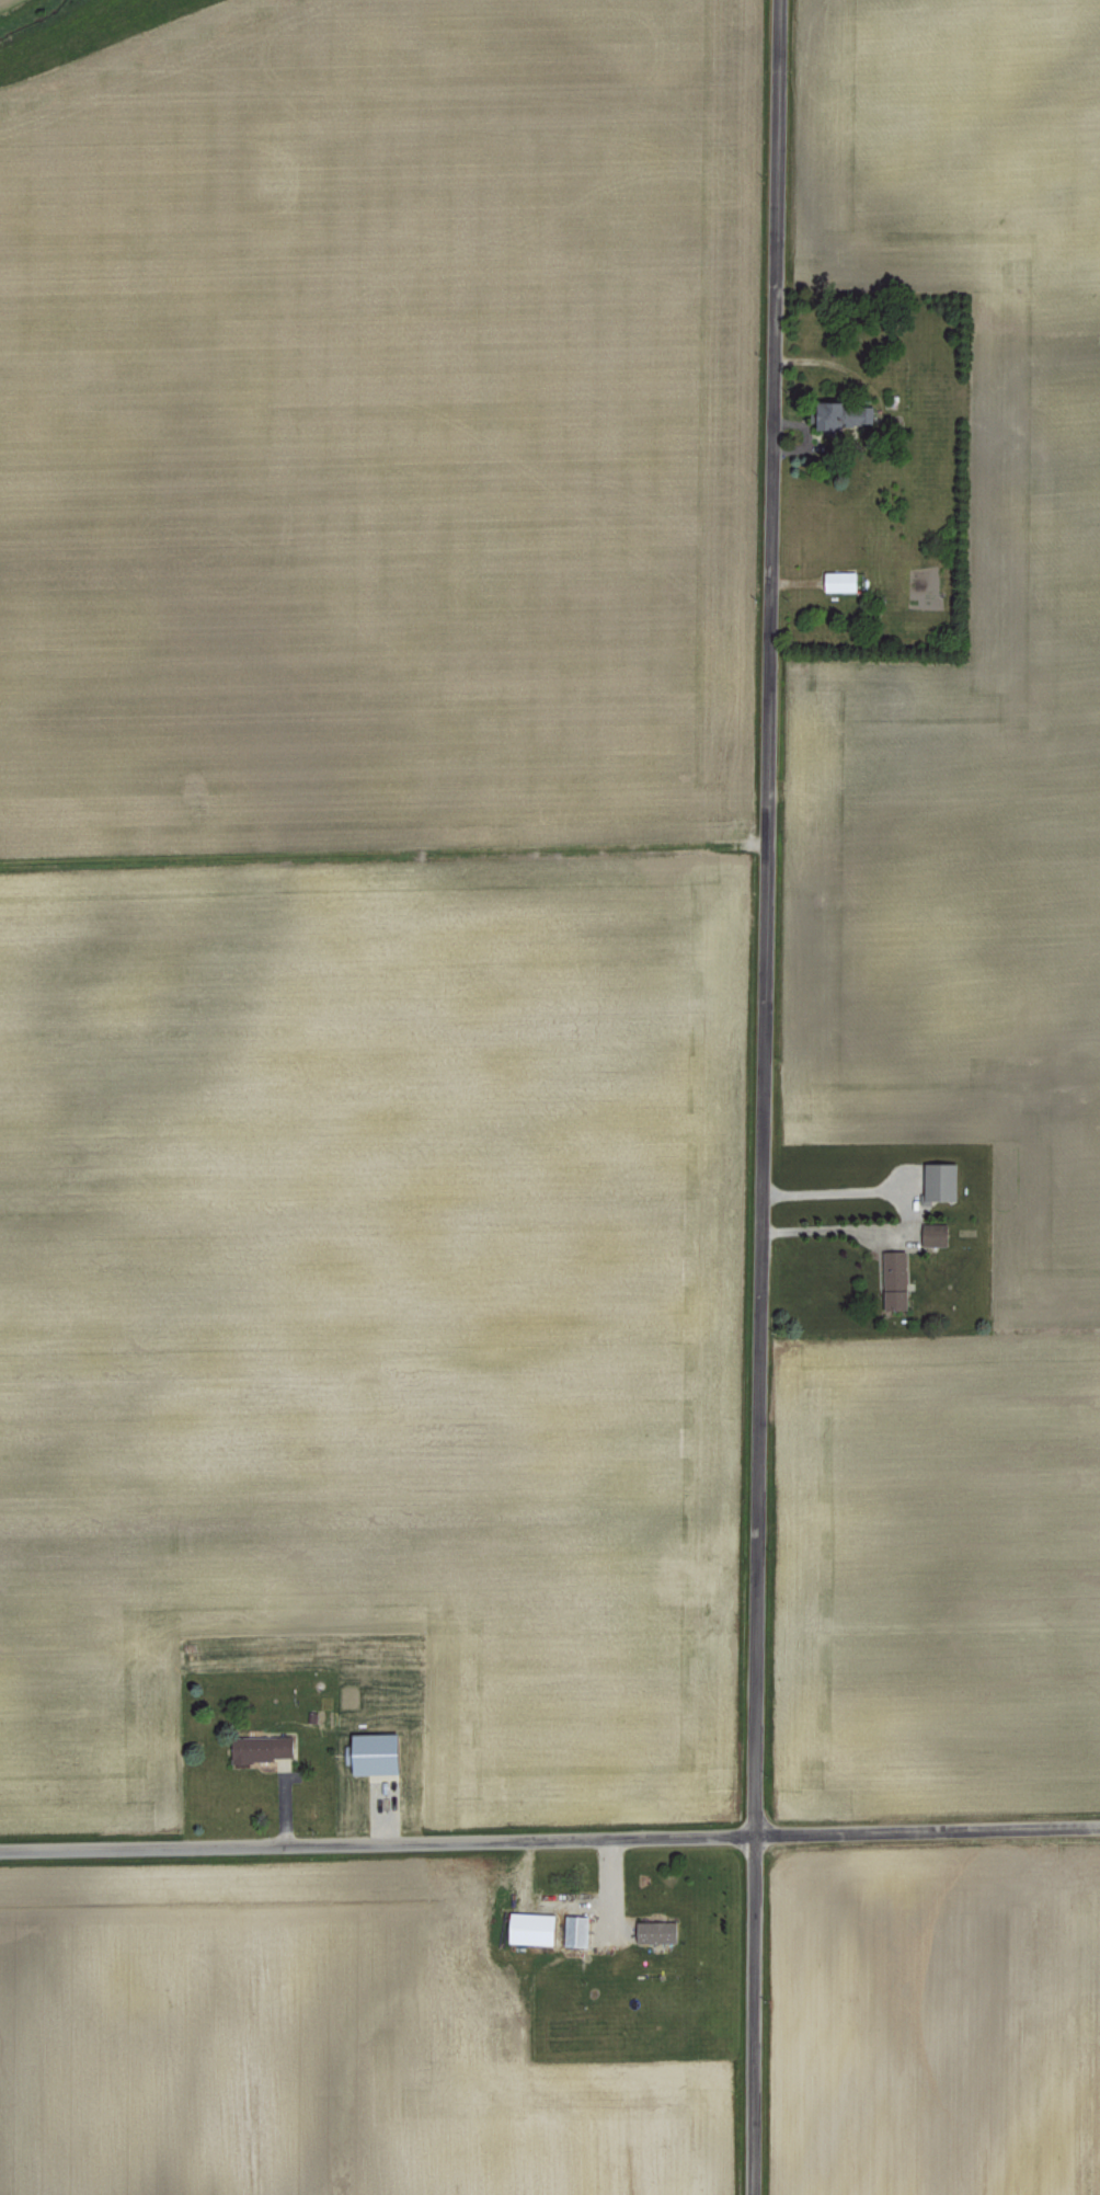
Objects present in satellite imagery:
road: (872, 409)
building: (834, 579)
road: (759, 1097)
building: (933, 1180)
road: (826, 1230)
building: (891, 1278)
building: (265, 1747)
building: (382, 1752)
road: (550, 1840)
building: (537, 1928)
building: (578, 1930)
building: (658, 1931)

